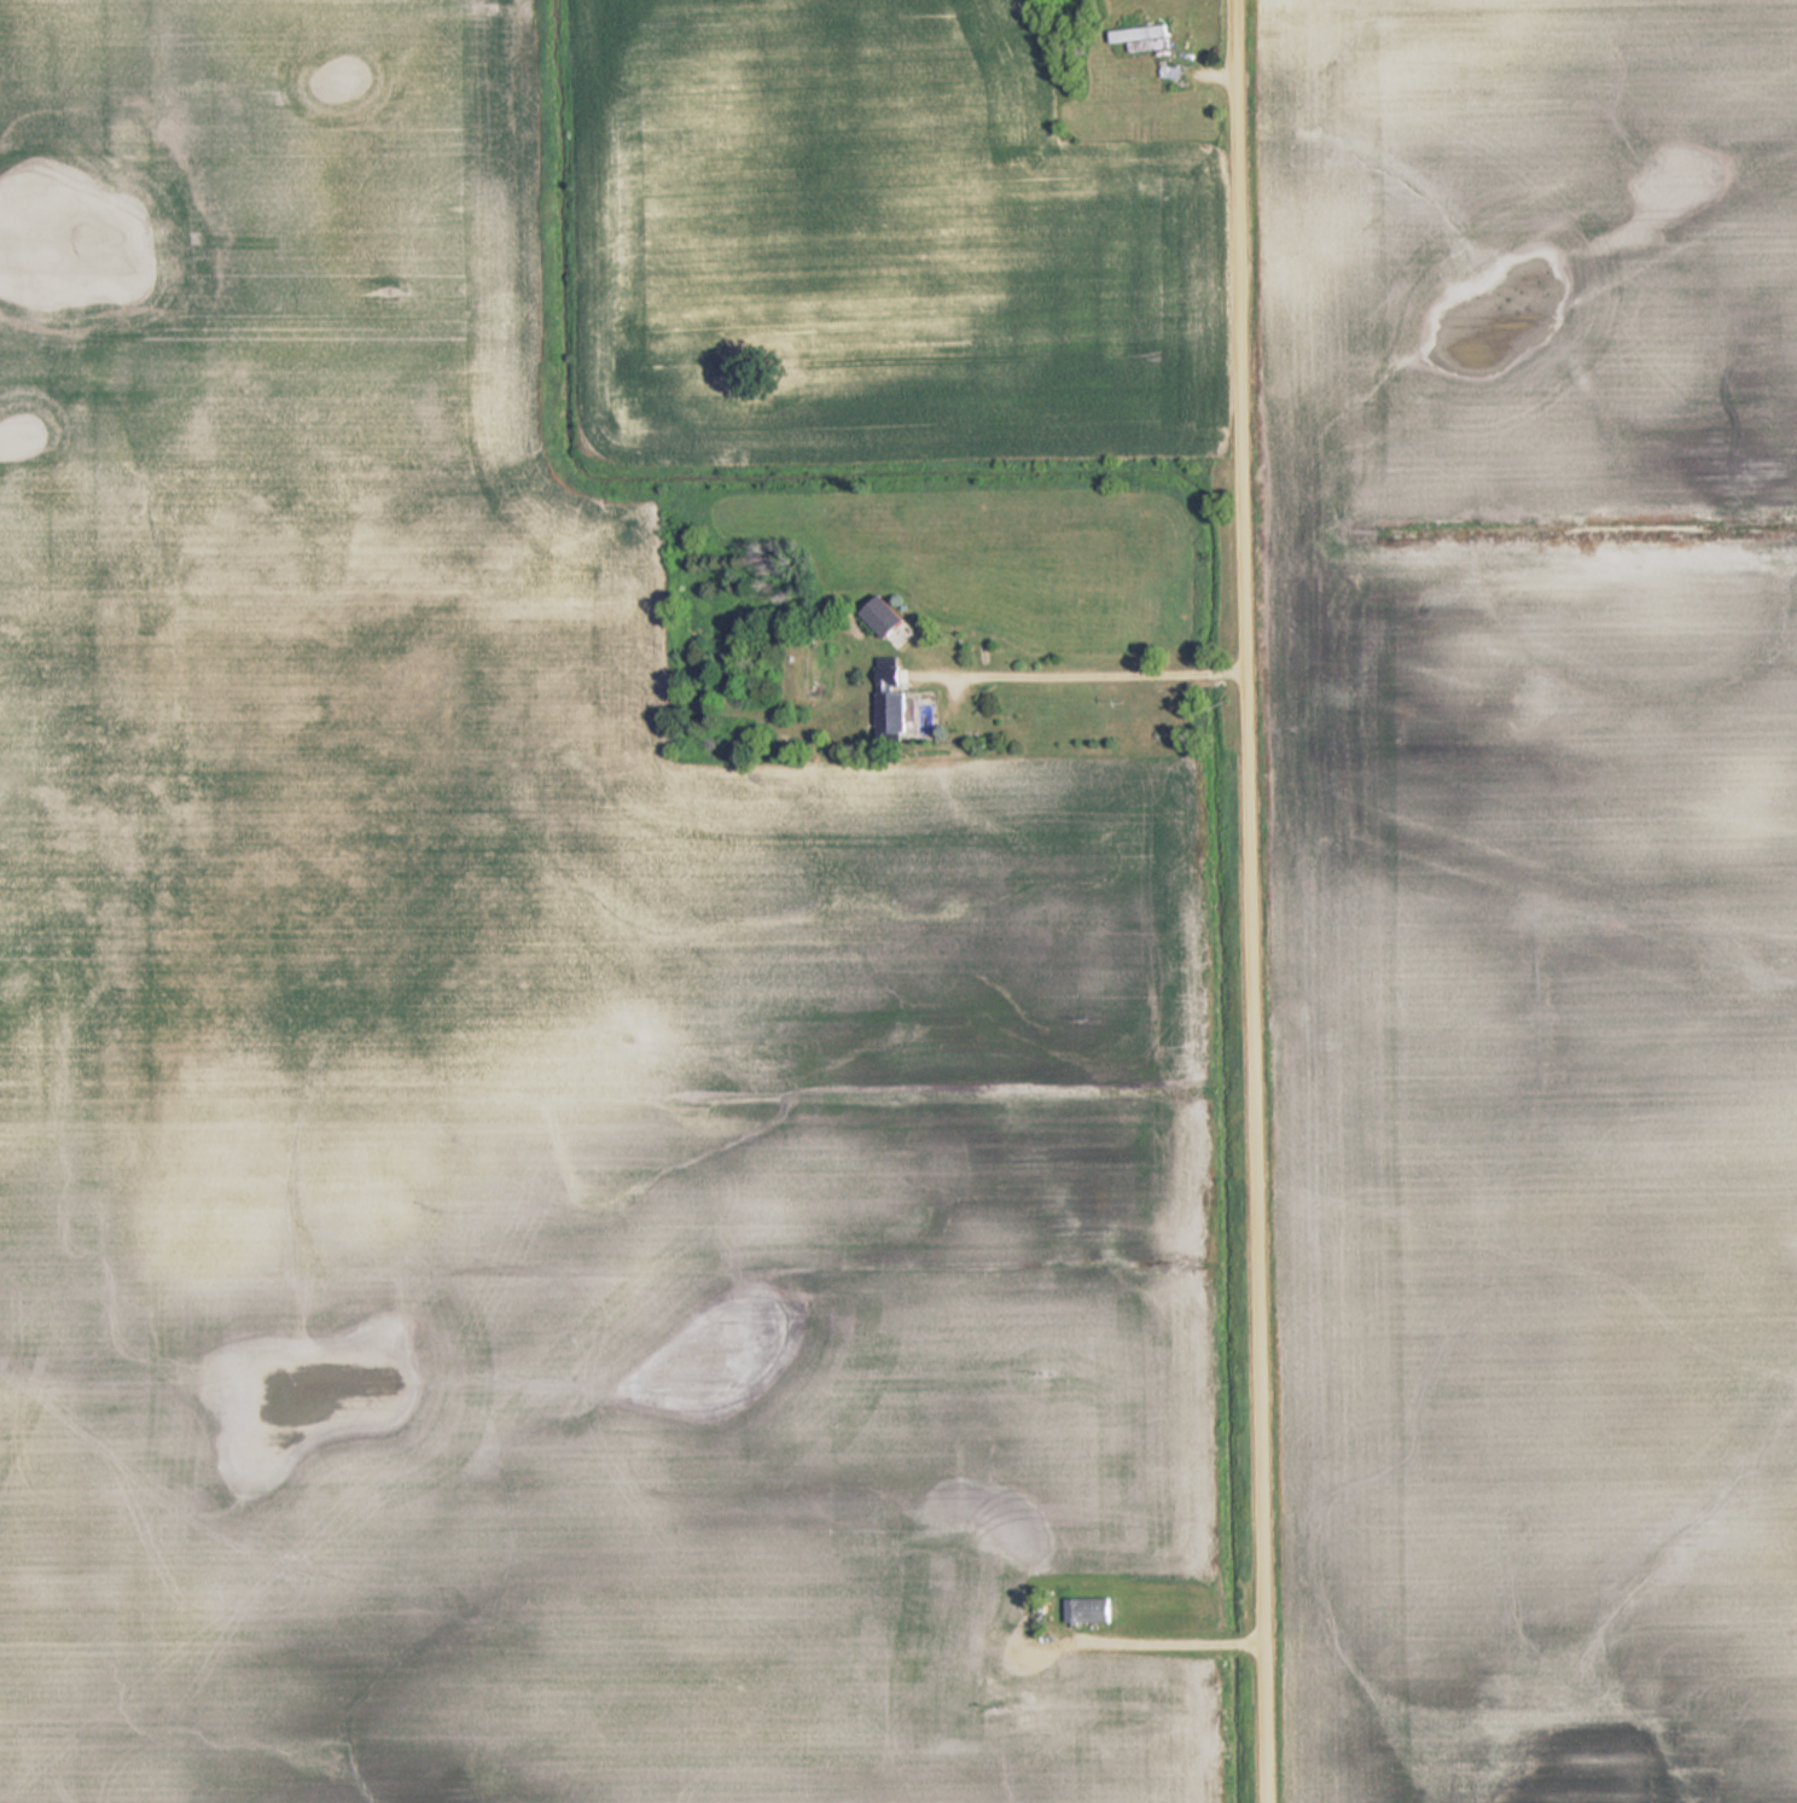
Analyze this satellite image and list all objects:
building: (1145, 39)
building: (1170, 71)
building: (886, 616)
building: (892, 696)
road: (1257, 901)
building: (1091, 1611)

